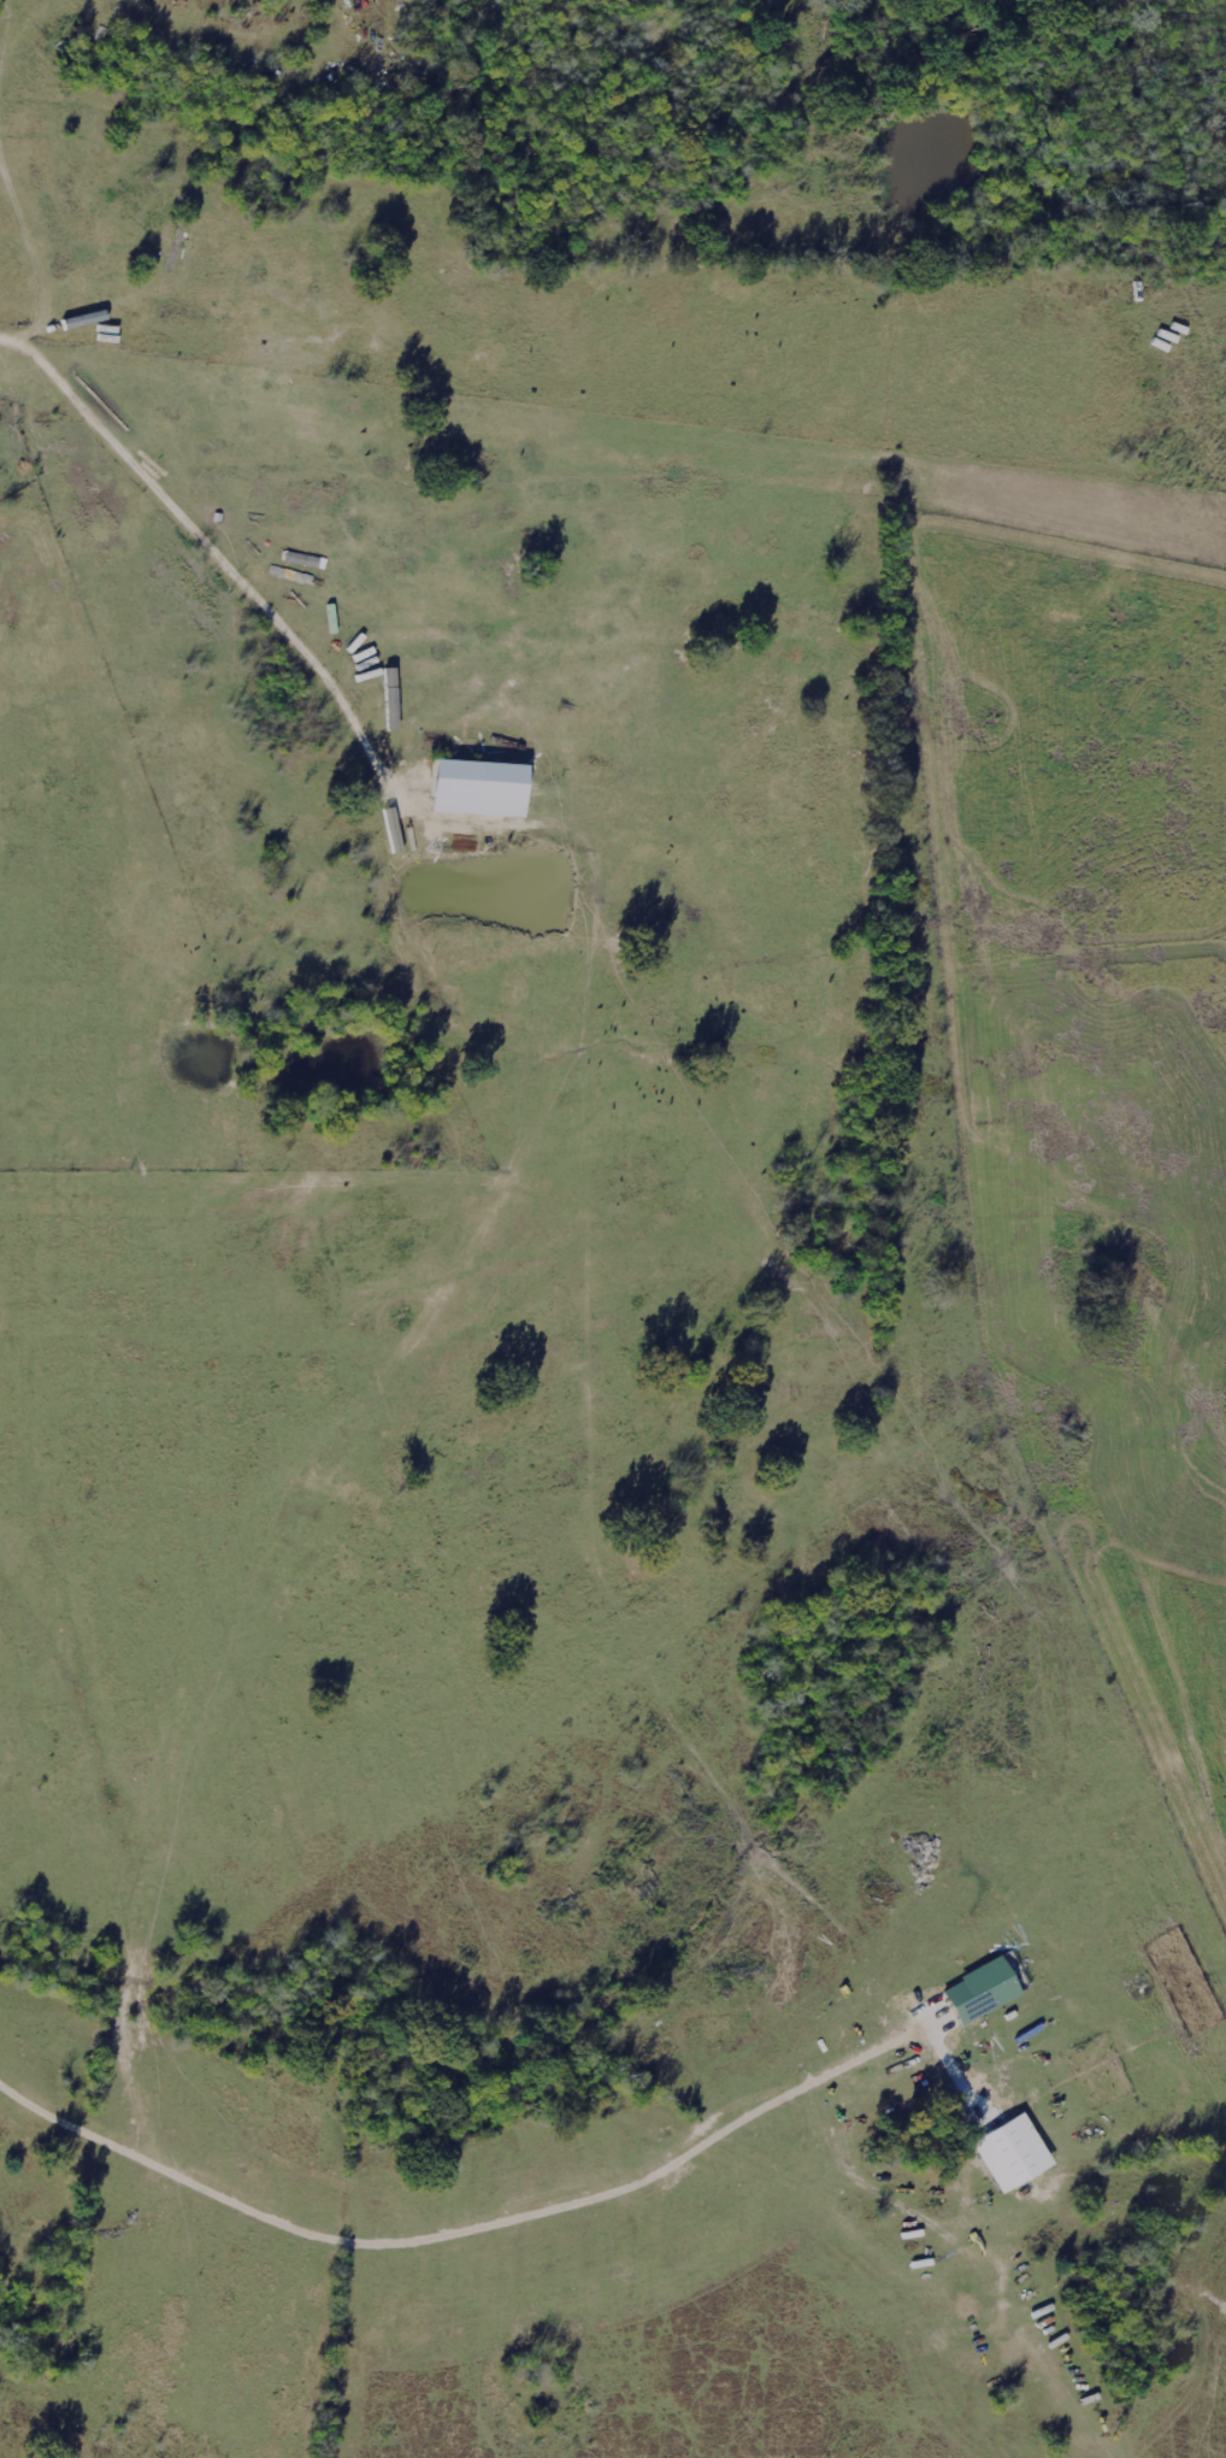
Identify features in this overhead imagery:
building: (484, 782)
building: (985, 1990)
building: (1015, 2154)

